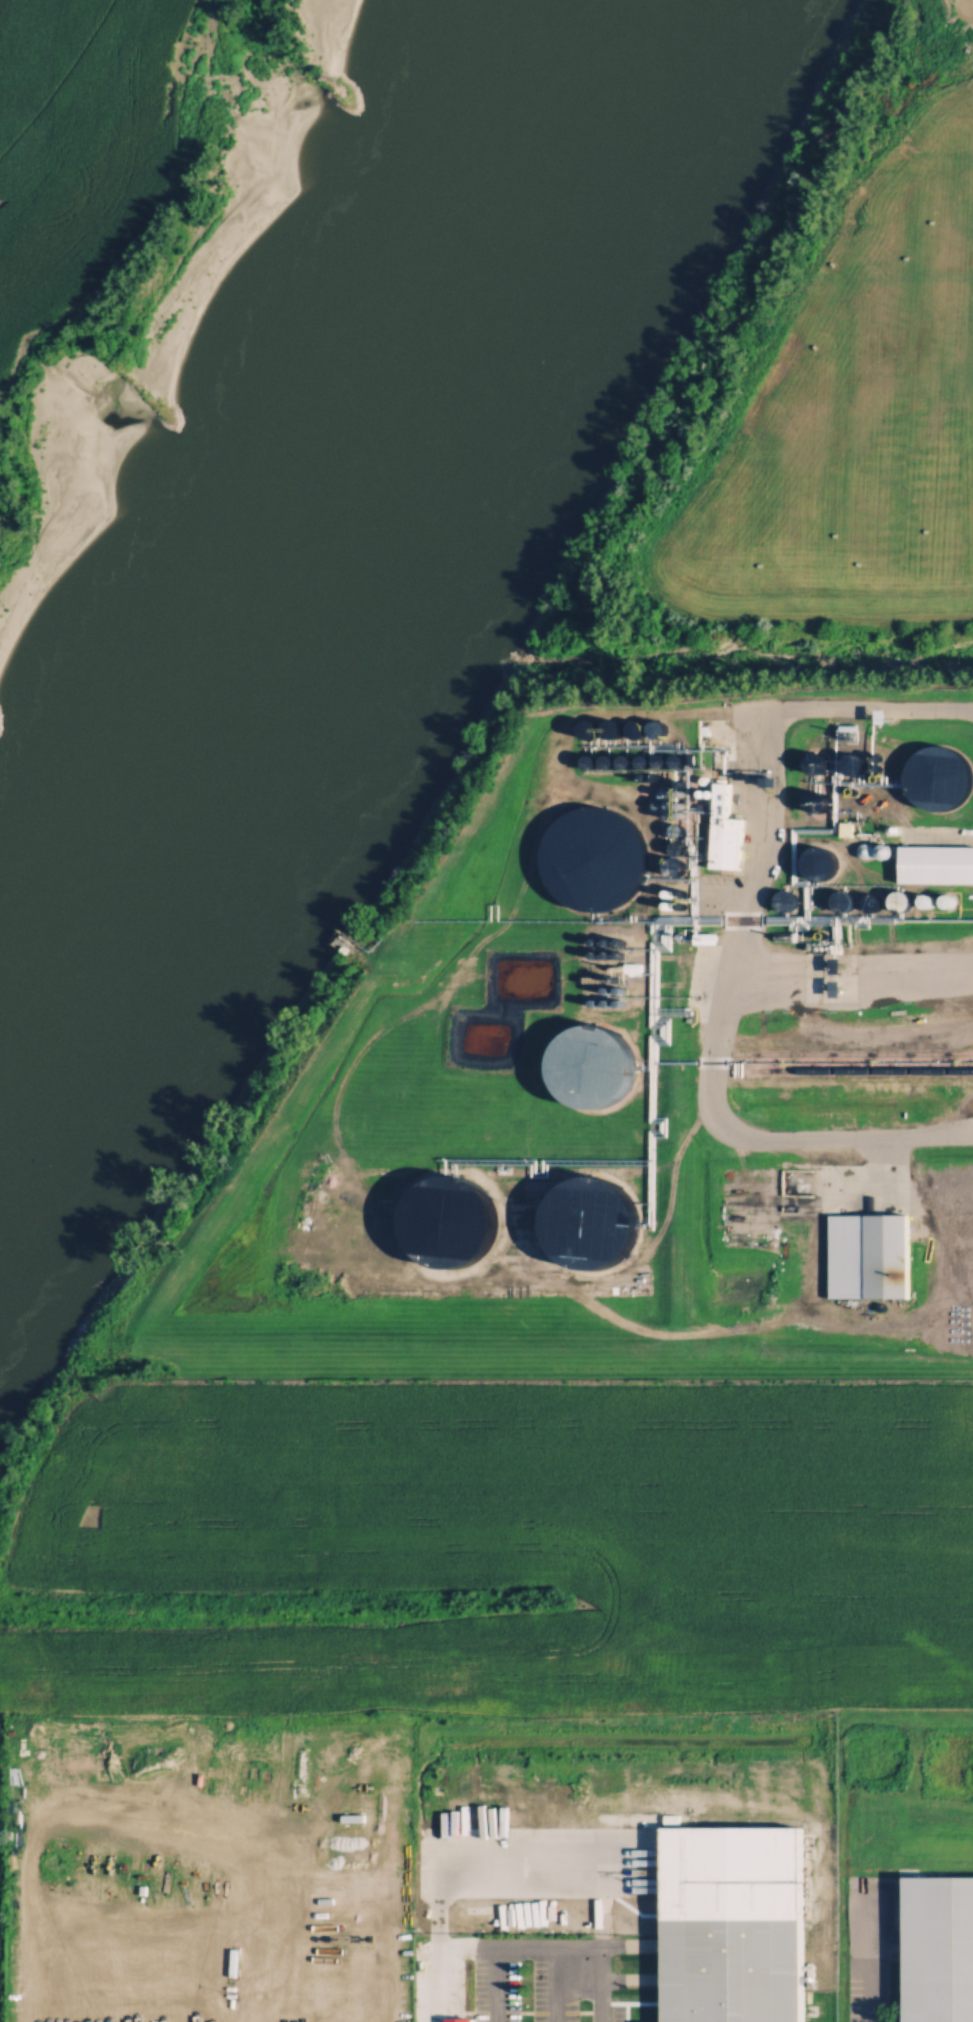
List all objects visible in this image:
crop: (37, 86)
river: (325, 544)
building: (929, 784)
storage tank: (929, 784)
building: (726, 827)
building: (596, 858)
storage tank: (596, 858)
building: (937, 864)
building: (943, 899)
road: (729, 951)
railway: (852, 1072)
building: (580, 1073)
storage tank: (580, 1073)
building: (660, 1123)
building: (590, 1209)
storage tank: (452, 1222)
storage tank: (593, 1223)
building: (434, 1237)
building: (870, 1256)
building: (739, 1923)
building: (939, 1949)
road: (597, 1951)
road: (243, 1974)

